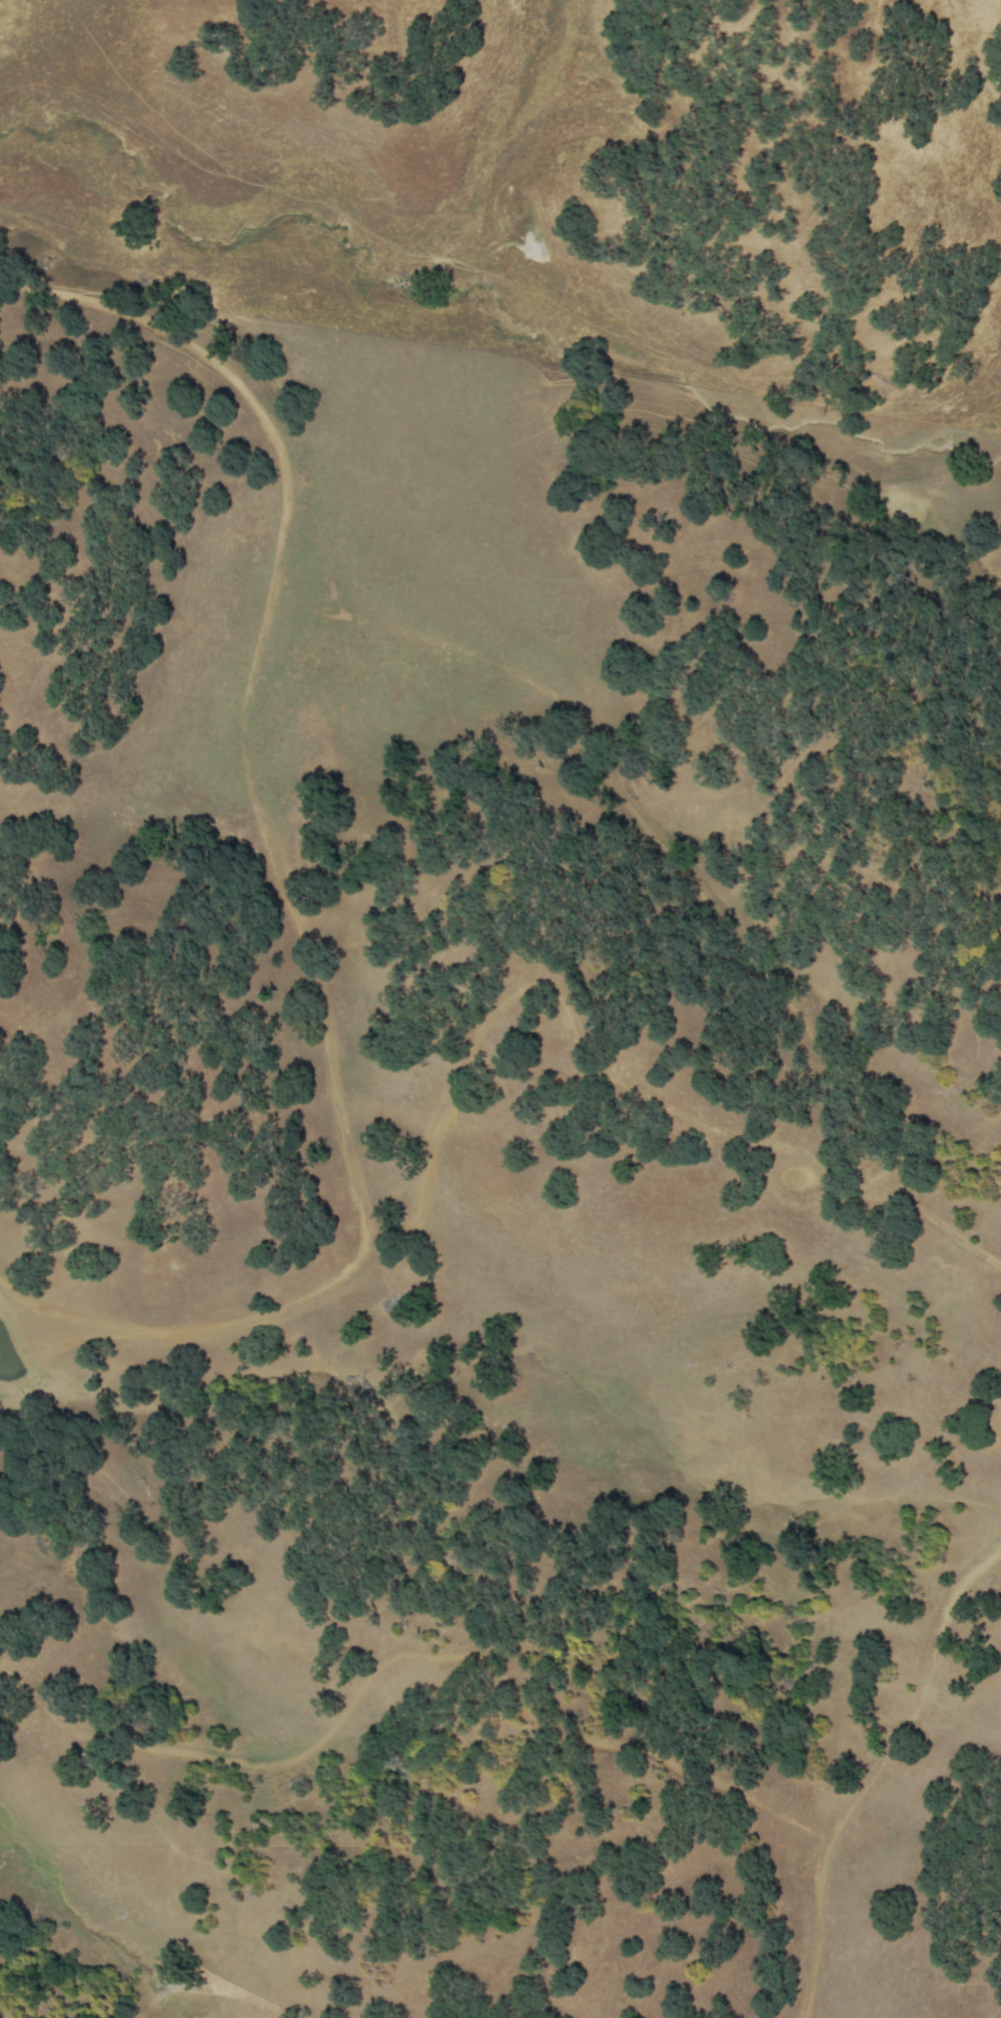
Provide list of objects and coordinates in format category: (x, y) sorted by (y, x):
road: (876, 1770)

